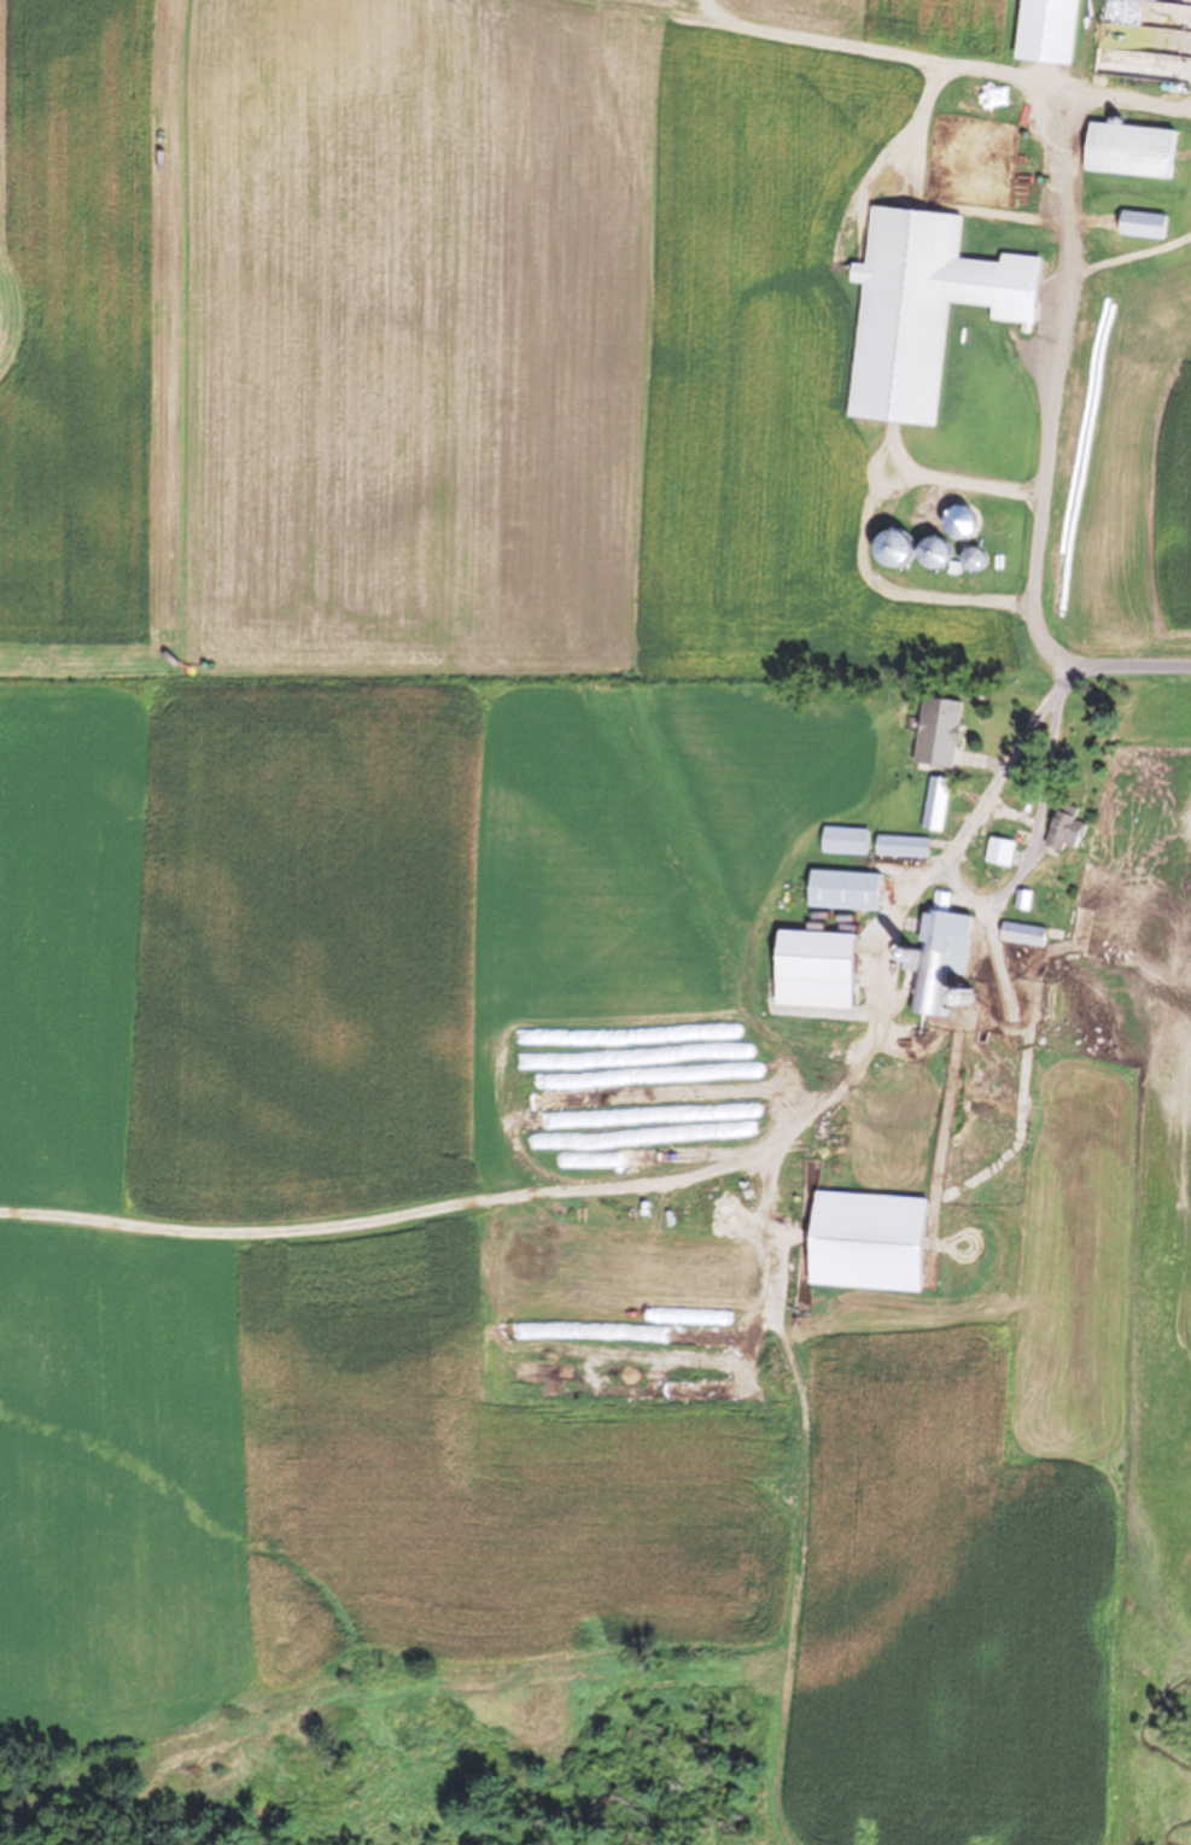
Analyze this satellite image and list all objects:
building: (1043, 33)
road: (1061, 127)
building: (1125, 153)
building: (1137, 228)
road: (1129, 256)
building: (921, 311)
road: (1045, 461)
road: (919, 475)
building: (883, 551)
building: (924, 555)
building: (965, 561)
road: (900, 592)
road: (1114, 668)
building: (938, 737)
building: (932, 807)
building: (1059, 831)
road: (1035, 835)
building: (839, 845)
building: (897, 849)
building: (994, 856)
building: (839, 894)
building: (1018, 905)
building: (1016, 938)
building: (933, 967)
building: (817, 971)
road: (681, 1180)
building: (862, 1243)

